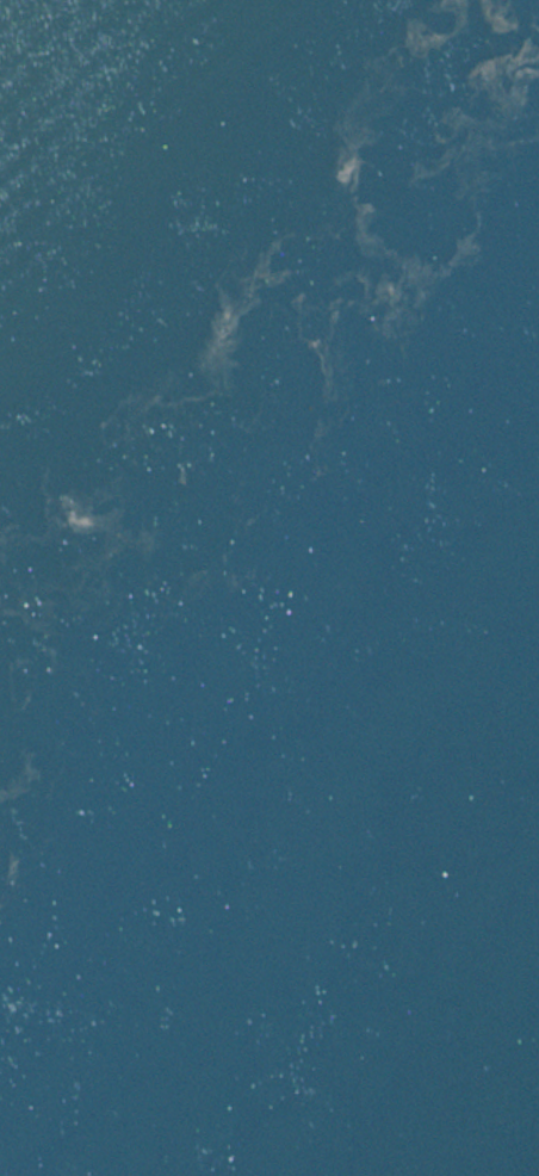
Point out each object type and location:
river: (523, 1149)

